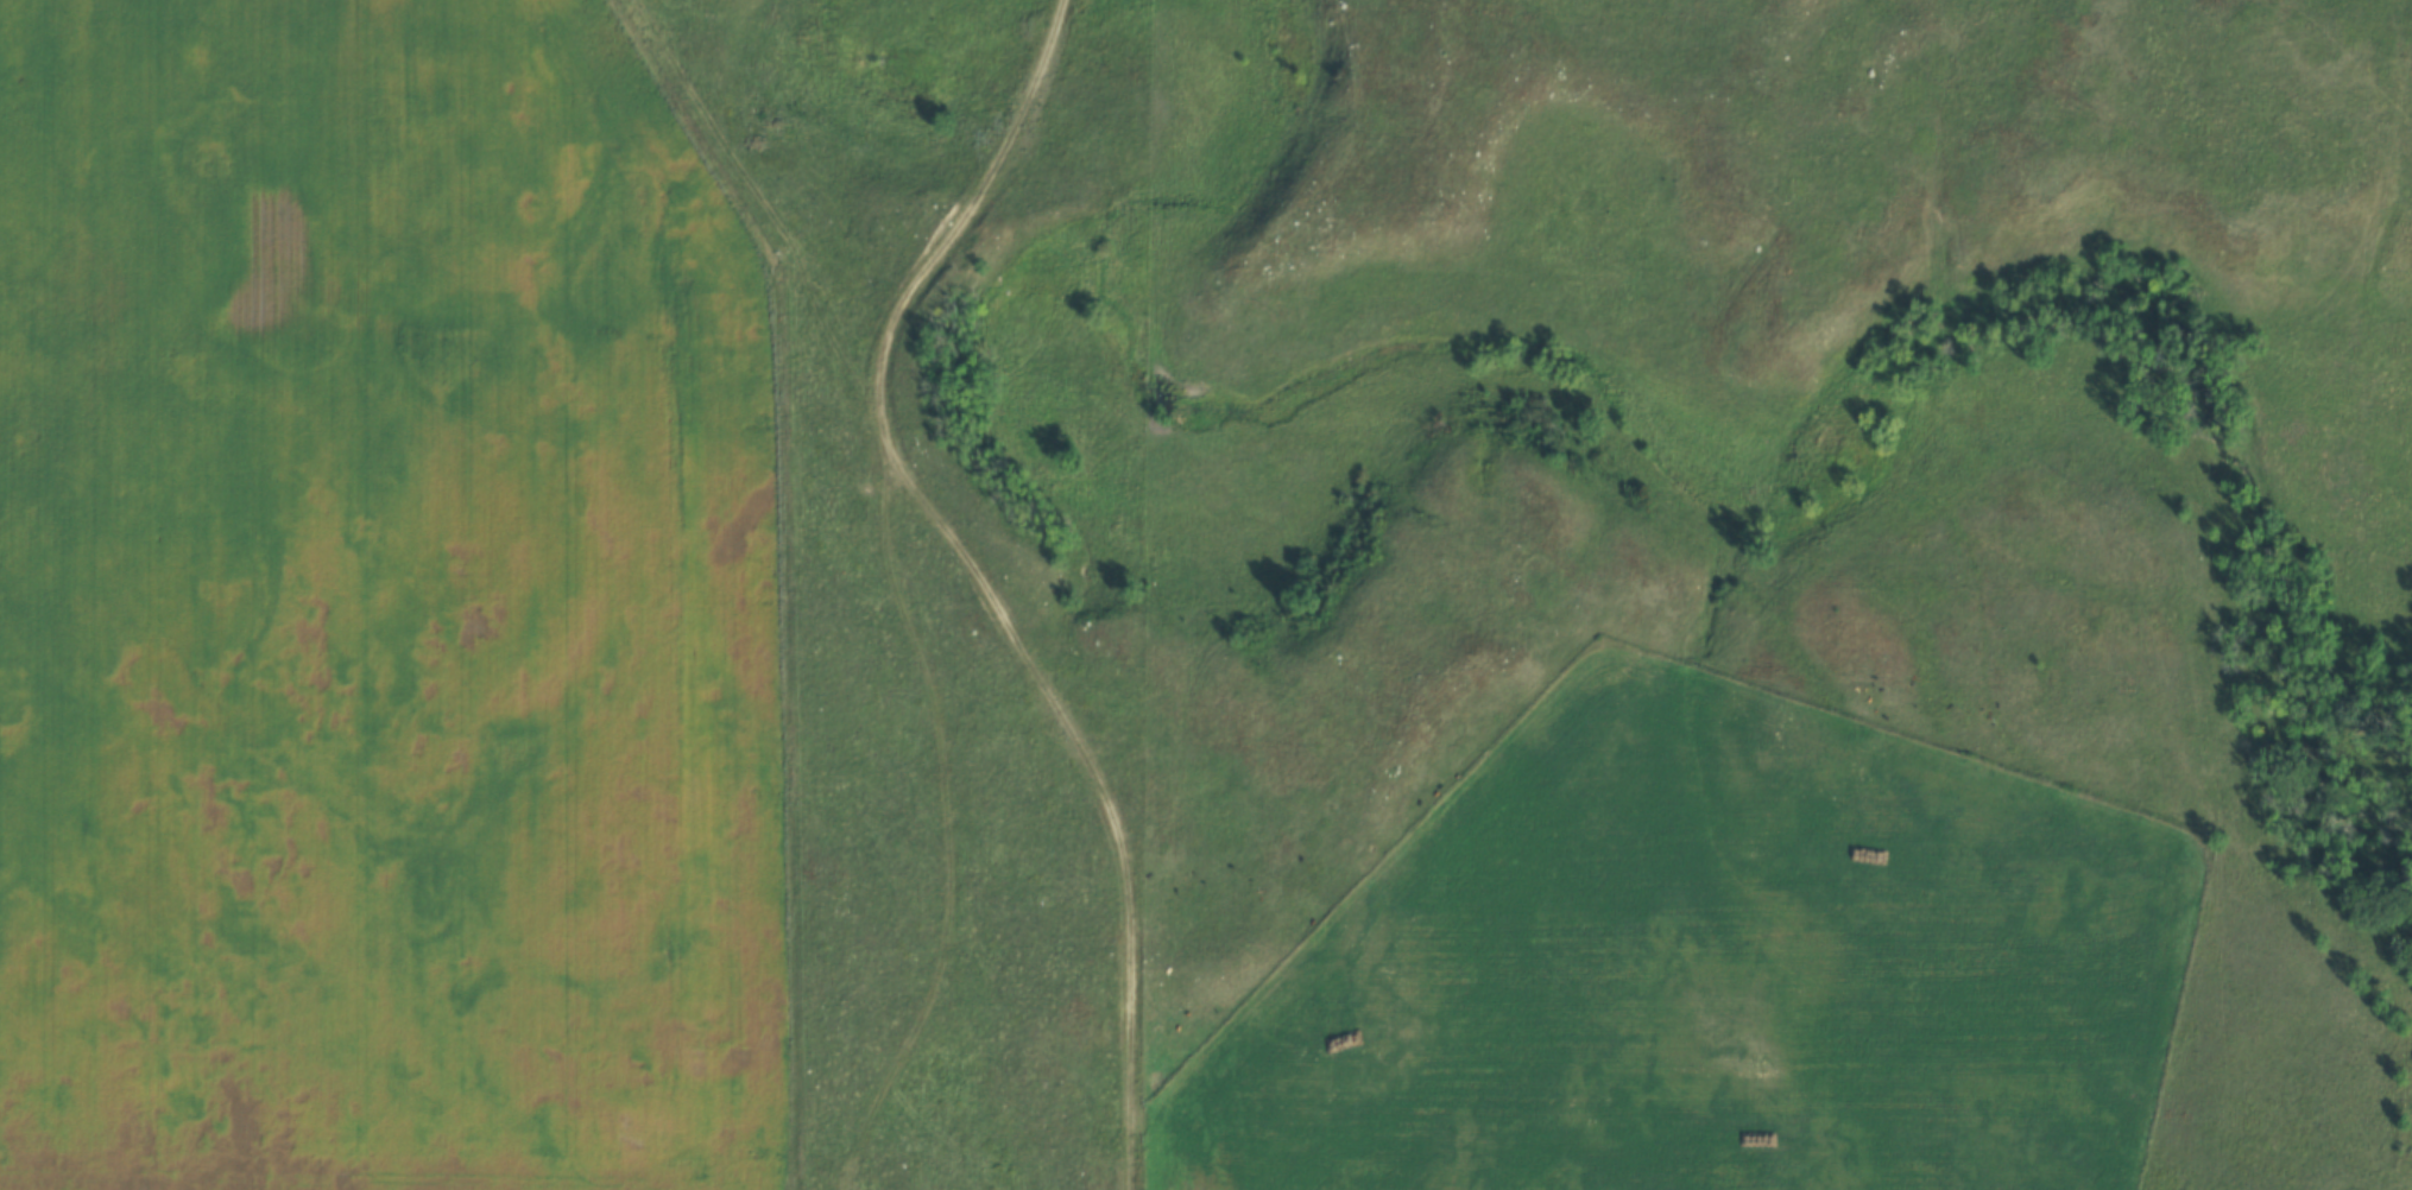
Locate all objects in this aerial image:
road: (984, 572)
building: (1542, 1167)

